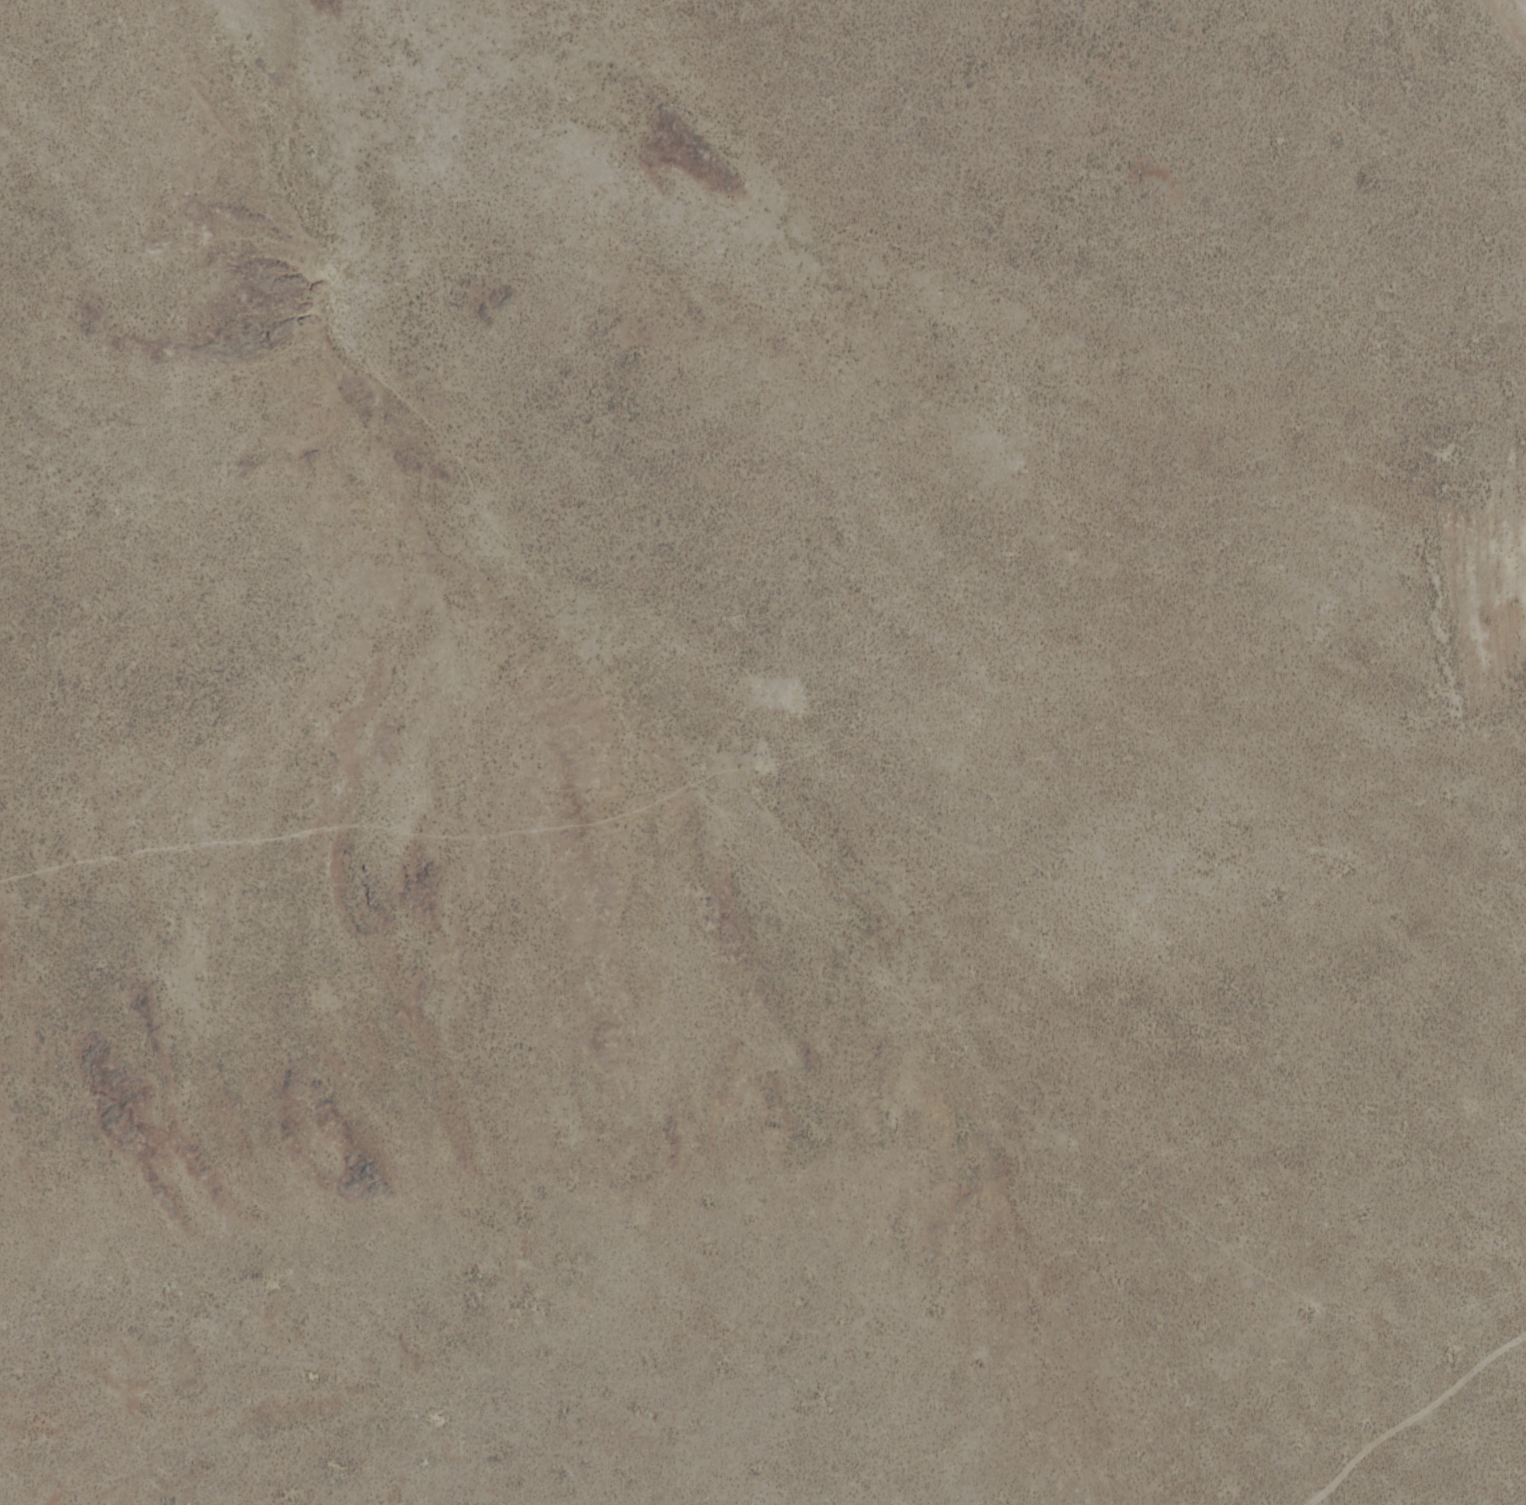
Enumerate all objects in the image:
road: (1383, 1327)

